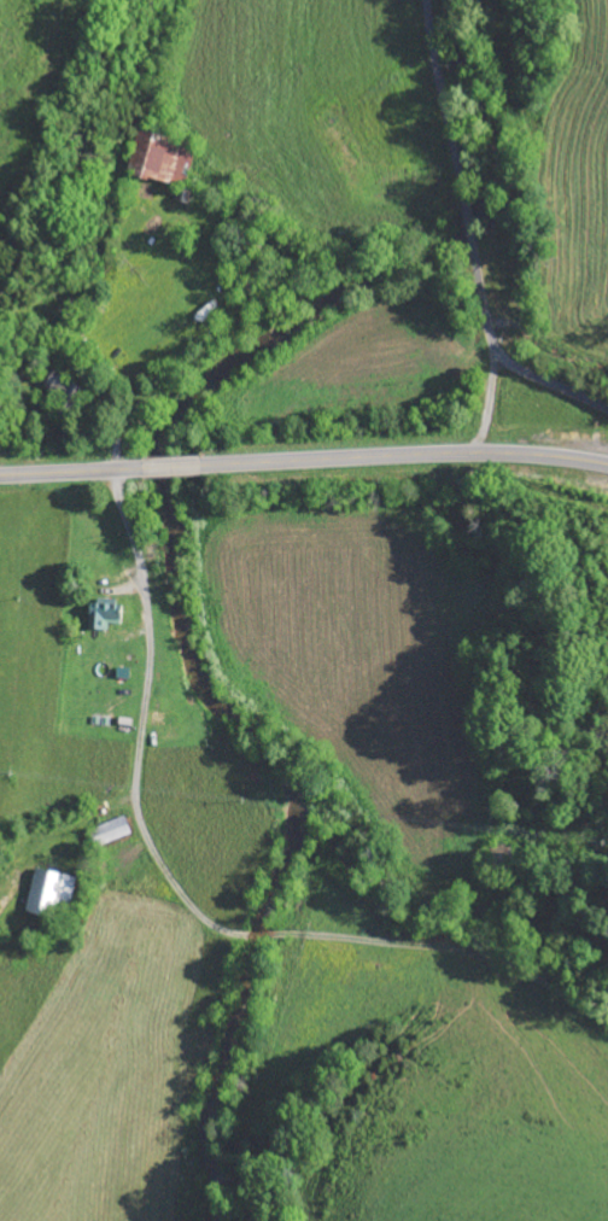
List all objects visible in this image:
building: (160, 156)
road: (470, 238)
building: (63, 386)
road: (487, 397)
road: (304, 461)
building: (107, 615)
building: (164, 719)
road: (141, 729)
building: (113, 830)
building: (53, 893)
road: (269, 936)

